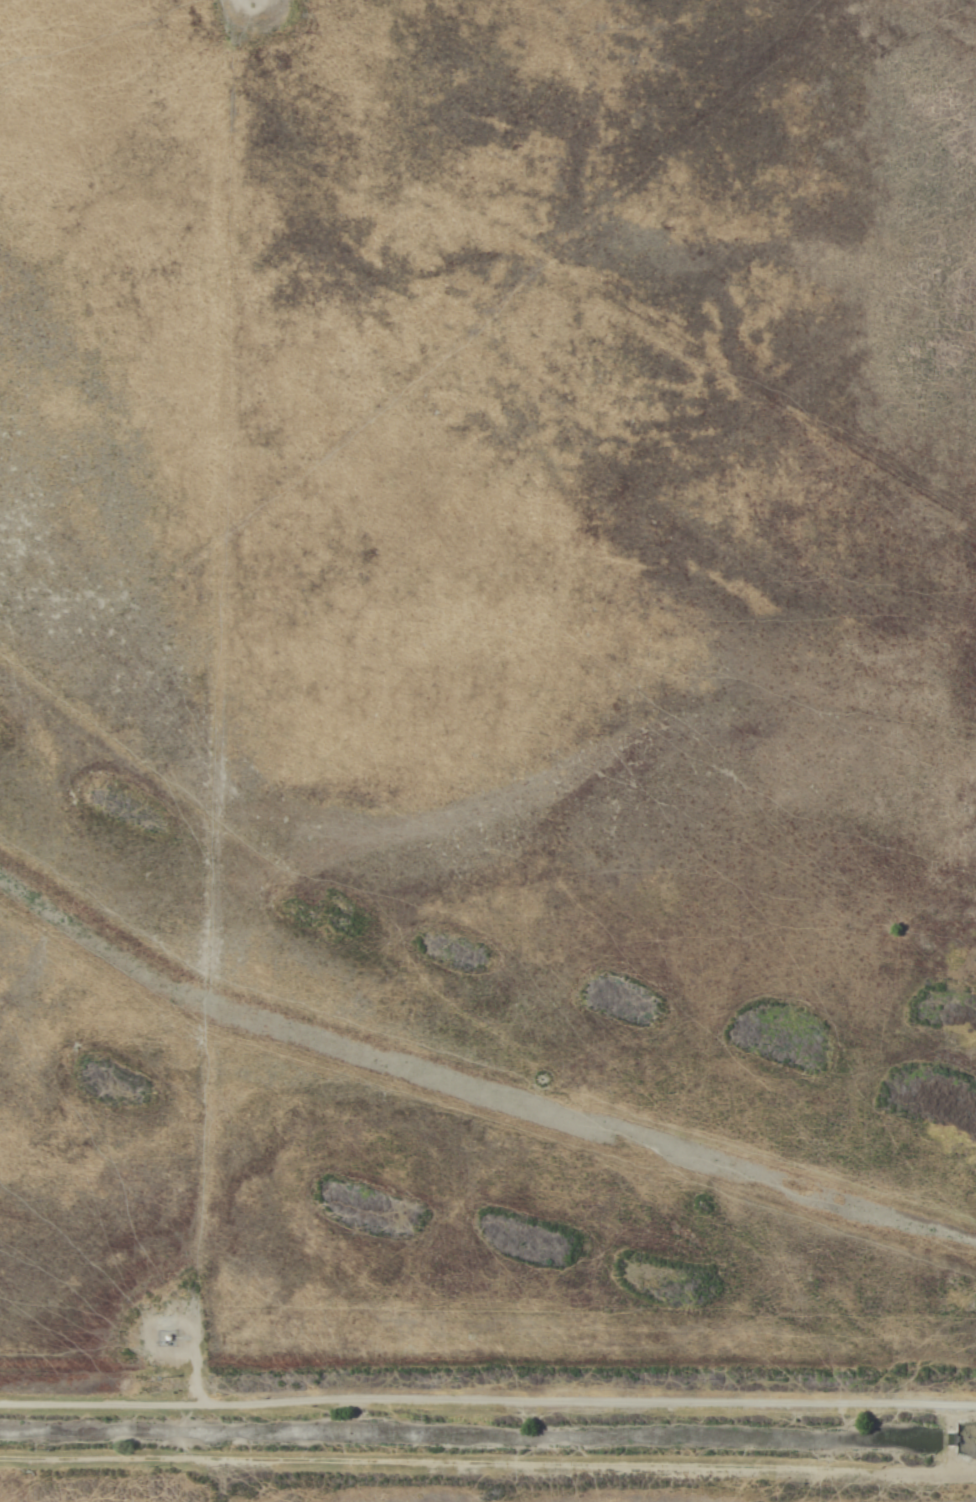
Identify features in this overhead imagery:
crop: (488, 751)
road: (487, 1407)
road: (488, 1454)

